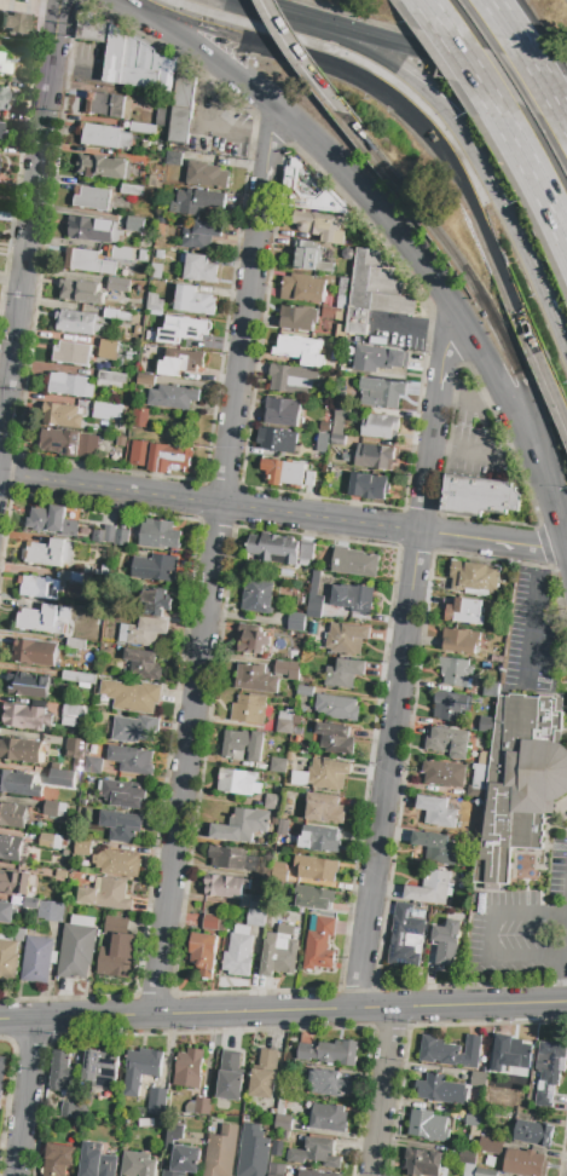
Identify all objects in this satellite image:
road: (250, 6)
road: (427, 7)
road: (504, 21)
building: (13, 23)
building: (93, 28)
road: (386, 39)
building: (115, 56)
road: (301, 58)
road: (377, 59)
building: (140, 64)
road: (332, 64)
building: (4, 65)
road: (469, 69)
building: (168, 74)
road: (543, 82)
road: (530, 83)
road: (530, 87)
building: (185, 88)
building: (2, 97)
building: (109, 105)
building: (166, 108)
building: (180, 125)
building: (0, 127)
building: (143, 128)
building: (105, 137)
building: (173, 158)
building: (103, 167)
road: (392, 173)
building: (207, 175)
road: (537, 184)
building: (132, 190)
building: (307, 195)
building: (93, 198)
building: (197, 202)
road: (29, 215)
building: (135, 225)
building: (319, 226)
building: (94, 230)
road: (397, 232)
building: (201, 235)
road: (517, 238)
building: (121, 254)
building: (143, 255)
building: (308, 258)
building: (88, 261)
building: (199, 269)
building: (156, 271)
building: (348, 273)
road: (507, 283)
building: (118, 284)
building: (302, 288)
building: (80, 292)
building: (375, 292)
building: (343, 293)
building: (193, 301)
building: (154, 302)
building: (111, 312)
building: (329, 313)
building: (342, 315)
building: (125, 316)
building: (297, 318)
building: (75, 323)
building: (181, 329)
building: (137, 330)
building: (109, 350)
building: (300, 350)
building: (71, 353)
building: (376, 358)
building: (180, 362)
road: (440, 374)
building: (145, 379)
building: (290, 379)
building: (111, 380)
road: (523, 384)
building: (69, 386)
road: (551, 386)
building: (380, 393)
building: (173, 397)
road: (469, 399)
building: (342, 403)
building: (106, 410)
building: (282, 411)
building: (62, 415)
building: (328, 415)
building: (140, 417)
building: (339, 423)
building: (380, 426)
building: (325, 427)
building: (273, 439)
building: (337, 440)
building: (59, 442)
building: (88, 445)
building: (299, 446)
building: (322, 449)
road: (478, 449)
building: (375, 456)
building: (161, 457)
building: (293, 473)
building: (314, 474)
building: (369, 486)
building: (480, 496)
road: (209, 501)
building: (52, 521)
building: (106, 535)
building: (158, 535)
building: (122, 537)
road: (492, 541)
building: (273, 549)
building: (307, 550)
road: (566, 552)
building: (50, 553)
road: (566, 553)
road: (213, 560)
building: (354, 563)
building: (155, 567)
building: (285, 573)
building: (63, 576)
building: (474, 577)
building: (81, 578)
building: (76, 586)
building: (39, 587)
building: (314, 590)
building: (258, 598)
building: (354, 598)
building: (155, 601)
building: (313, 611)
building: (464, 612)
road: (528, 616)
building: (41, 619)
building: (98, 622)
building: (296, 622)
building: (143, 632)
building: (346, 639)
building: (253, 640)
building: (459, 641)
building: (75, 644)
building: (34, 652)
building: (143, 665)
building: (287, 669)
building: (455, 671)
building: (343, 673)
building: (77, 678)
building: (255, 679)
building: (28, 685)
building: (490, 690)
building: (305, 691)
building: (132, 696)
building: (451, 705)
building: (337, 708)
building: (248, 709)
building: (71, 711)
building: (284, 715)
building: (27, 717)
building: (68, 722)
building: (486, 725)
road: (390, 726)
building: (283, 727)
building: (134, 730)
building: (332, 739)
building: (447, 743)
building: (242, 745)
building: (75, 748)
building: (19, 750)
building: (482, 759)
building: (131, 760)
building: (77, 765)
building: (54, 766)
building: (93, 766)
building: (277, 766)
building: (442, 773)
building: (328, 774)
building: (469, 774)
building: (481, 776)
building: (60, 778)
building: (299, 778)
building: (238, 783)
building: (519, 783)
building: (18, 784)
building: (122, 792)
building: (272, 802)
building: (82, 805)
building: (323, 807)
building: (53, 808)
building: (435, 811)
building: (85, 814)
building: (12, 815)
building: (239, 824)
building: (121, 826)
building: (282, 829)
building: (319, 840)
building: (46, 841)
building: (64, 841)
building: (57, 842)
building: (82, 847)
building: (10, 848)
building: (432, 849)
building: (65, 853)
building: (233, 859)
building: (118, 863)
building: (317, 869)
building: (278, 871)
building: (50, 874)
building: (74, 878)
building: (16, 883)
building: (225, 887)
building: (430, 888)
building: (106, 894)
building: (247, 897)
building: (255, 898)
building: (314, 898)
building: (17, 900)
building: (30, 903)
building: (245, 904)
building: (259, 905)
building: (51, 911)
building: (6, 912)
building: (256, 917)
building: (115, 922)
building: (214, 923)
building: (242, 929)
building: (54, 930)
building: (19, 934)
building: (406, 935)
building: (6, 936)
road: (487, 938)
building: (446, 942)
building: (319, 945)
building: (77, 947)
building: (280, 951)
building: (203, 952)
building: (117, 956)
building: (238, 956)
building: (37, 959)
building: (8, 961)
road: (563, 982)
road: (283, 1011)
building: (329, 1053)
building: (446, 1054)
building: (510, 1054)
building: (189, 1068)
building: (99, 1070)
building: (140, 1070)
building: (480, 1070)
building: (549, 1071)
building: (60, 1072)
building: (1, 1074)
building: (264, 1074)
building: (230, 1077)
building: (478, 1079)
building: (329, 1084)
building: (435, 1089)
road: (382, 1091)
road: (24, 1096)
building: (493, 1099)
building: (157, 1102)
building: (280, 1105)
building: (202, 1107)
building: (68, 1111)
building: (329, 1118)
building: (474, 1118)
building: (145, 1123)
building: (283, 1123)
building: (428, 1126)
building: (280, 1134)
building: (532, 1134)
building: (173, 1135)
building: (490, 1145)
building: (278, 1148)
building: (220, 1152)
building: (253, 1152)
building: (316, 1153)
building: (467, 1155)
building: (58, 1159)
building: (184, 1160)
building: (97, 1161)
building: (485, 1161)
building: (422, 1163)
building: (525, 1163)
building: (138, 1165)
building: (276, 1169)
building: (468, 1169)
building: (484, 1172)
building: (316, 1174)

